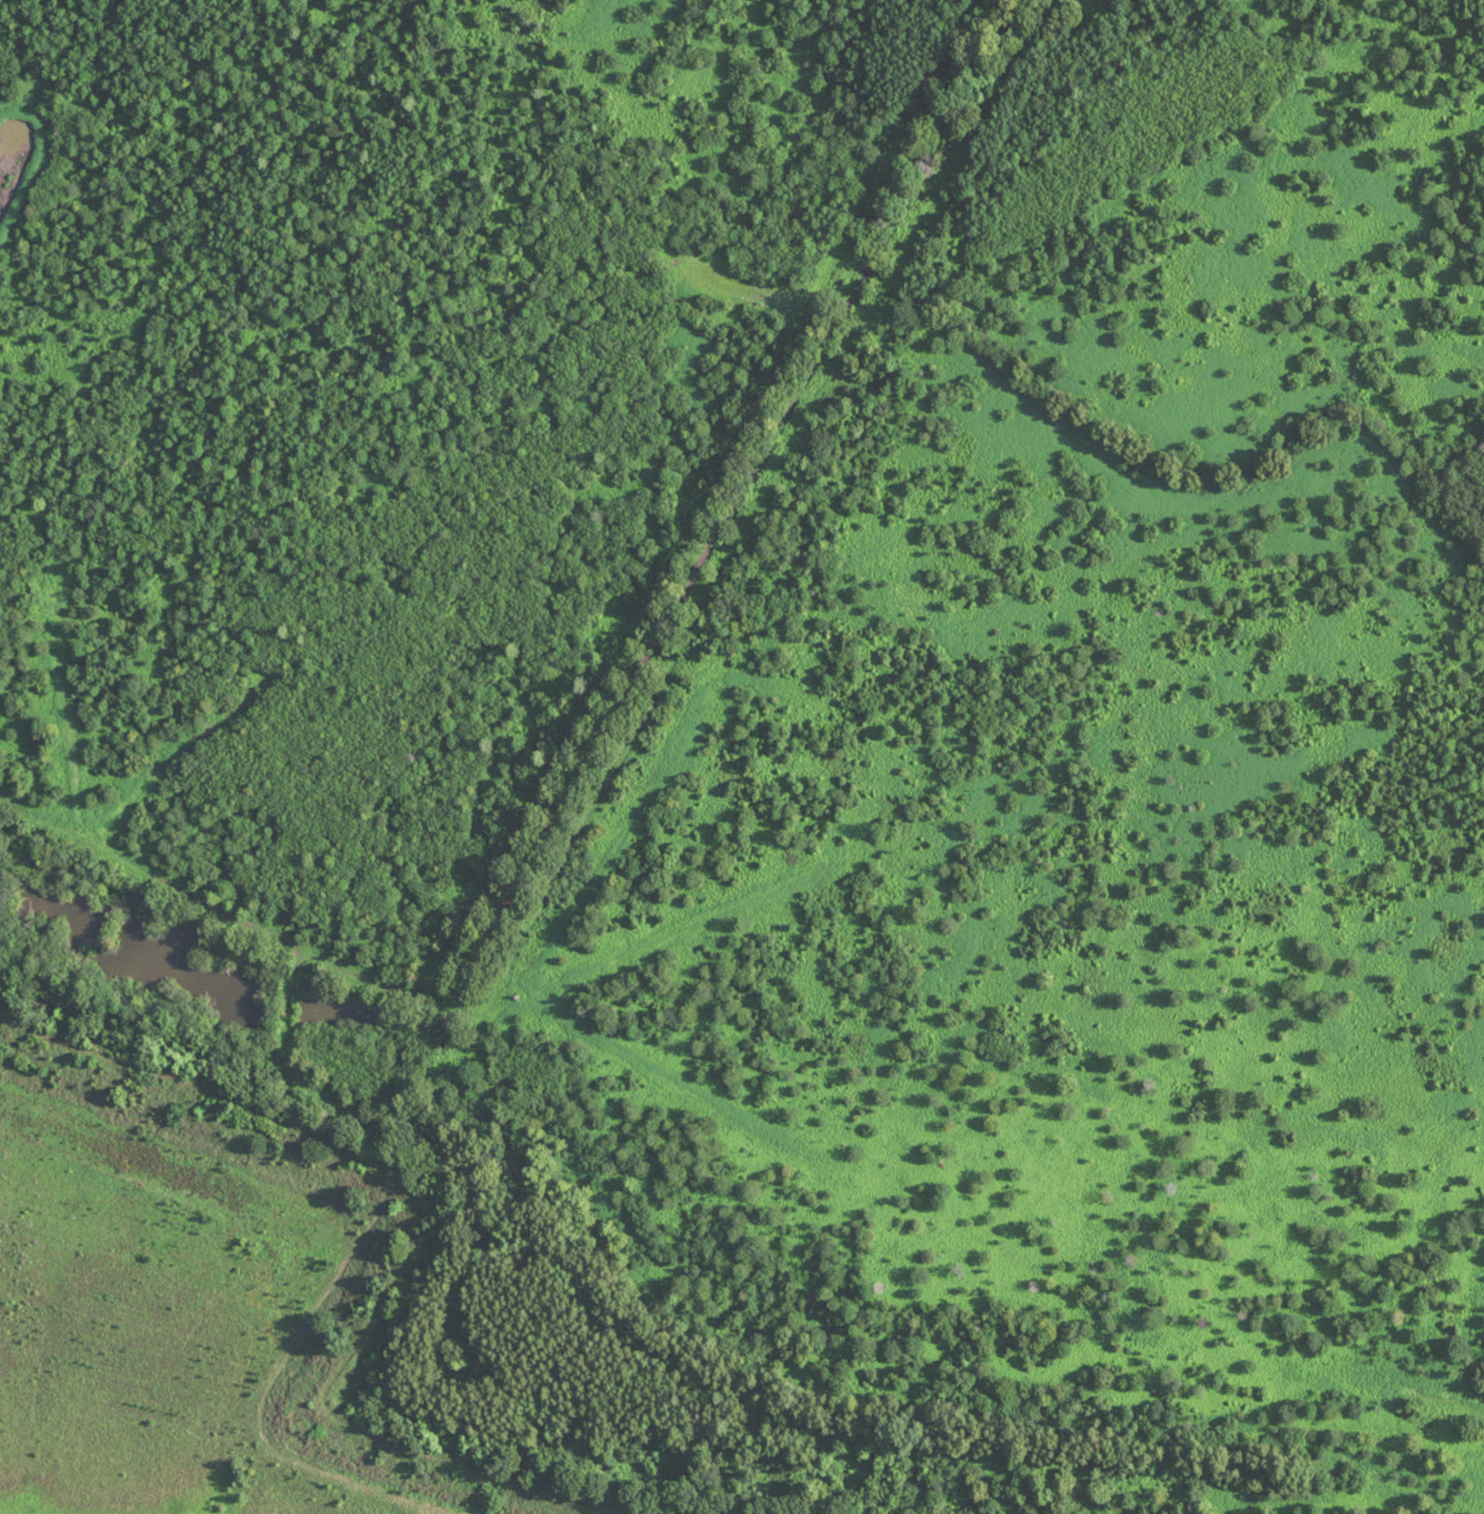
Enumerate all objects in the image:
road: (648, 701)
road: (397, 1263)

